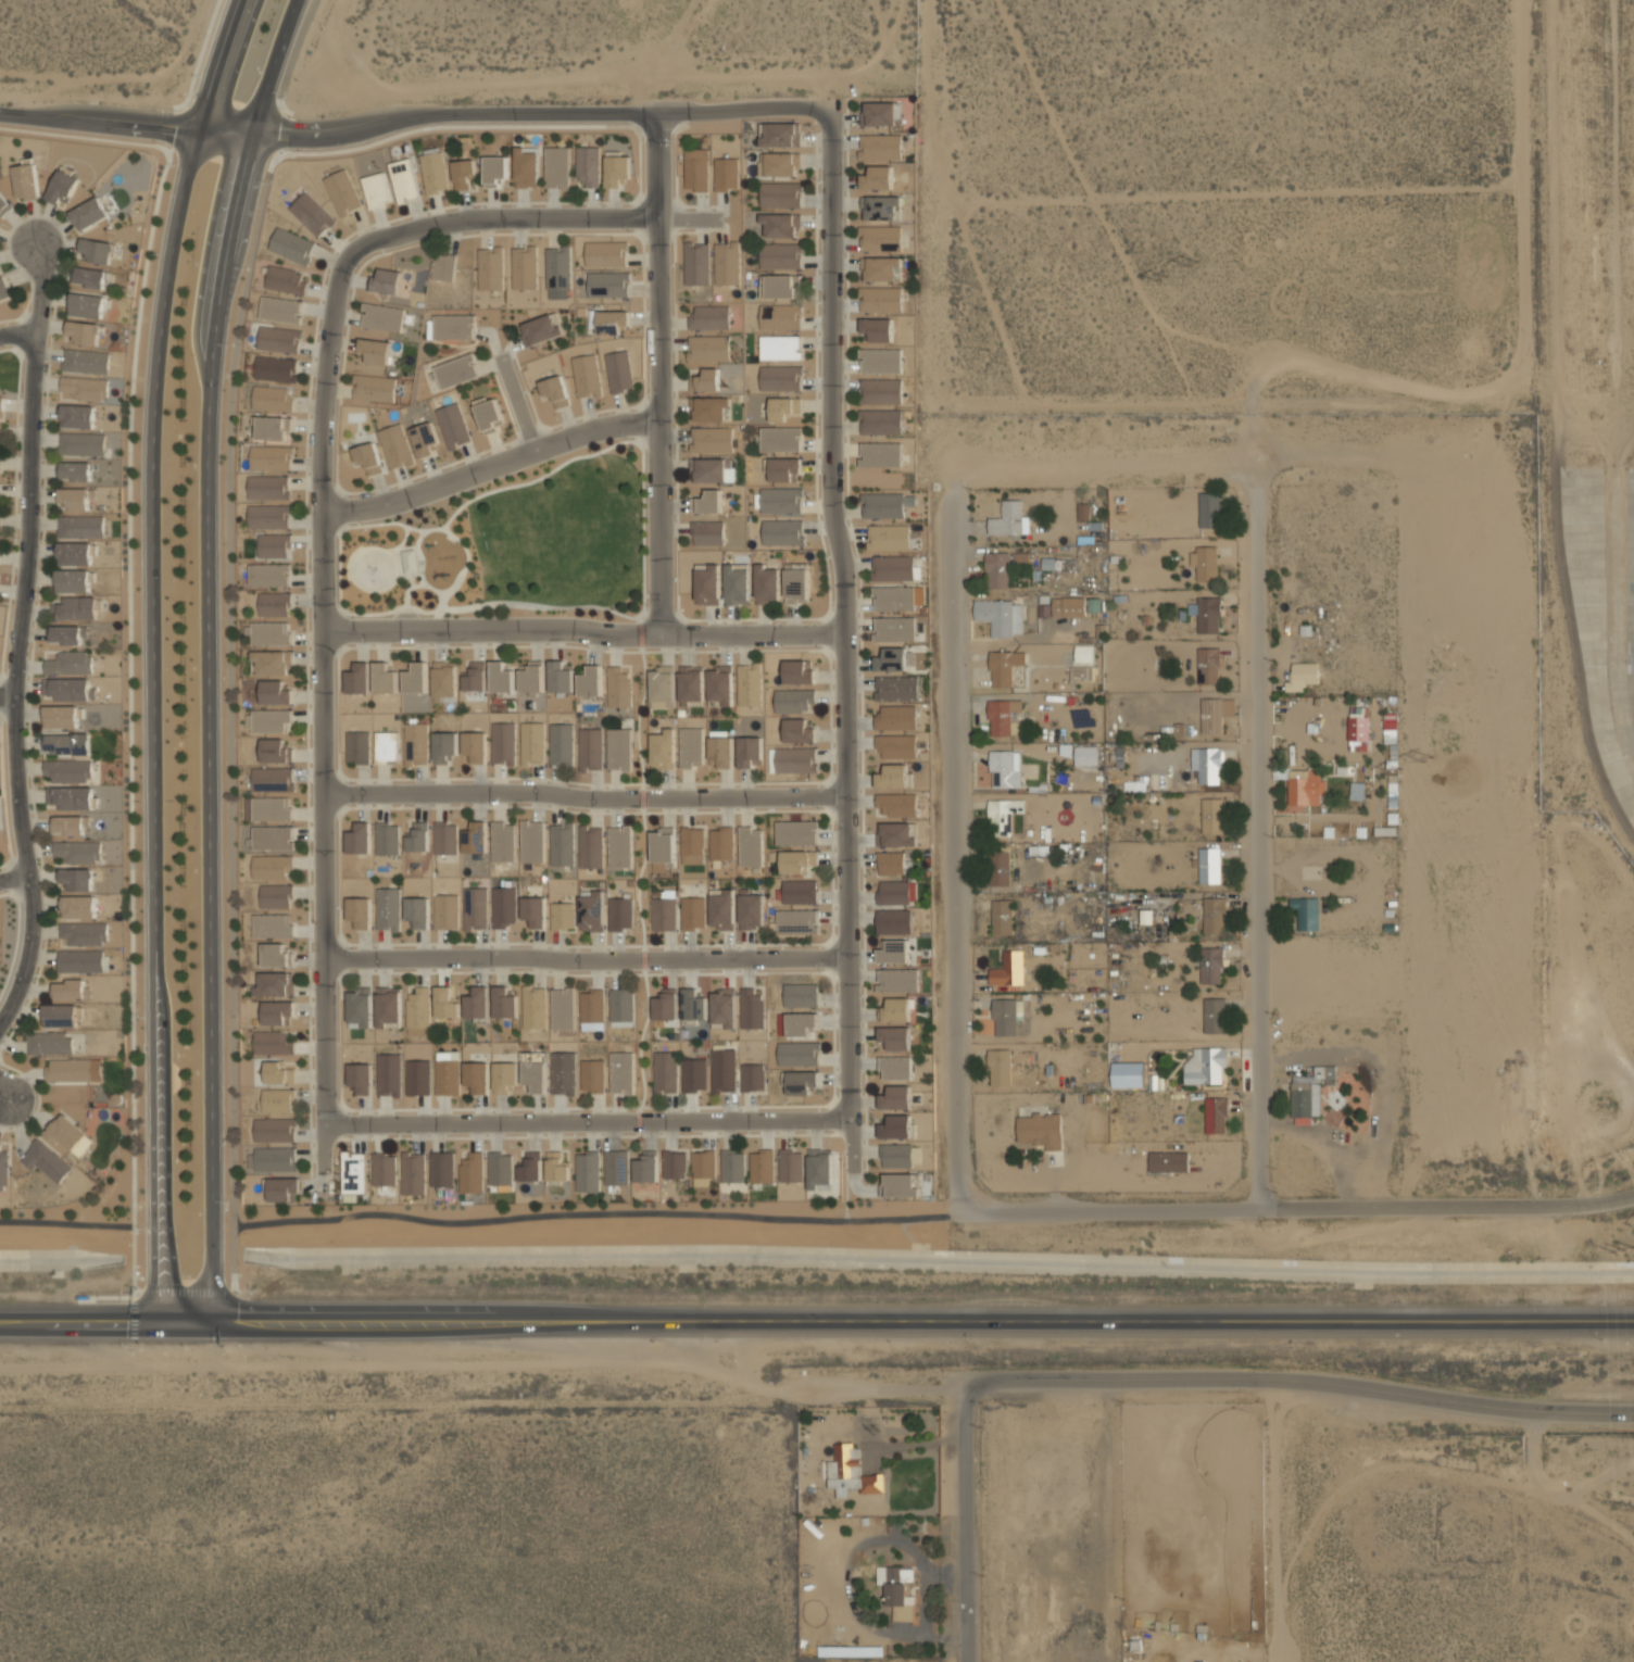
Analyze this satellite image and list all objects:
building: (881, 114)
road: (413, 118)
building: (779, 134)
building: (880, 147)
building: (761, 164)
building: (782, 164)
building: (588, 165)
building: (527, 166)
building: (556, 167)
building: (494, 169)
building: (616, 169)
building: (696, 169)
building: (433, 172)
building: (463, 174)
building: (726, 174)
building: (877, 178)
building: (403, 180)
building: (25, 181)
building: (62, 187)
building: (376, 189)
building: (342, 192)
building: (780, 194)
building: (3, 205)
building: (880, 206)
building: (89, 213)
building: (311, 214)
building: (780, 225)
building: (880, 238)
building: (291, 245)
building: (97, 250)
building: (605, 254)
building: (780, 255)
power tower: (1193, 261)
building: (696, 263)
building: (727, 263)
building: (443, 267)
building: (524, 267)
building: (558, 267)
building: (491, 268)
building: (90, 277)
power tower: (1161, 277)
building: (285, 279)
building: (387, 281)
building: (608, 285)
building: (781, 286)
building: (3, 289)
building: (880, 300)
building: (87, 305)
building: (280, 310)
building: (382, 317)
building: (709, 317)
building: (779, 317)
building: (612, 322)
building: (541, 329)
building: (877, 329)
building: (84, 332)
road: (17, 337)
building: (278, 339)
building: (780, 348)
building: (708, 350)
building: (375, 351)
building: (86, 361)
building: (880, 361)
road: (1517, 365)
building: (275, 368)
building: (455, 370)
building: (619, 372)
road: (659, 375)
building: (587, 376)
building: (780, 378)
building: (705, 380)
building: (85, 388)
building: (374, 388)
building: (554, 390)
building: (880, 391)
building: (272, 398)
road: (518, 405)
building: (708, 408)
building: (784, 408)
building: (489, 414)
building: (77, 416)
building: (880, 421)
building: (452, 425)
building: (0, 427)
building: (273, 427)
building: (425, 439)
building: (711, 439)
building: (780, 439)
building: (81, 444)
building: (395, 446)
building: (880, 454)
building: (269, 457)
building: (367, 457)
building: (0, 464)
road: (1165, 464)
road: (490, 468)
building: (713, 469)
building: (782, 469)
building: (75, 470)
building: (267, 487)
building: (0, 490)
building: (75, 499)
building: (780, 500)
building: (707, 502)
building: (882, 505)
building: (1209, 509)
building: (1083, 512)
building: (268, 517)
building: (1009, 519)
road: (322, 522)
building: (80, 527)
building: (707, 532)
building: (782, 532)
building: (888, 537)
building: (273, 545)
park: (510, 546)
building: (75, 554)
building: (1019, 556)
building: (410, 561)
building: (1204, 563)
building: (892, 567)
park: (374, 569)
building: (996, 570)
building: (268, 575)
building: (73, 580)
building: (796, 582)
building: (707, 584)
building: (737, 584)
building: (766, 584)
road: (947, 594)
building: (894, 599)
building: (274, 604)
road: (230, 605)
building: (1068, 606)
building: (76, 608)
building: (1207, 614)
building: (1001, 616)
building: (894, 629)
road: (583, 630)
building: (269, 633)
building: (67, 634)
road: (18, 635)
road: (845, 640)
road: (206, 653)
building: (1083, 653)
road: (152, 654)
building: (68, 663)
building: (271, 663)
building: (1208, 666)
building: (1004, 667)
building: (799, 671)
building: (1082, 673)
building: (1302, 676)
building: (475, 677)
building: (531, 677)
building: (561, 677)
building: (357, 678)
building: (385, 678)
building: (415, 678)
building: (501, 679)
building: (444, 680)
building: (590, 681)
building: (720, 684)
building: (749, 684)
building: (618, 685)
building: (661, 685)
building: (690, 685)
building: (896, 688)
building: (68, 689)
building: (275, 692)
road: (7, 698)
building: (793, 701)
building: (1002, 716)
building: (61, 717)
building: (896, 717)
building: (267, 720)
building: (1358, 729)
building: (797, 731)
building: (503, 743)
building: (532, 743)
building: (67, 744)
building: (415, 744)
building: (561, 744)
building: (443, 746)
building: (475, 746)
building: (896, 746)
building: (357, 747)
building: (386, 747)
building: (691, 747)
building: (590, 748)
building: (618, 748)
building: (663, 750)
building: (720, 750)
building: (275, 751)
building: (749, 752)
building: (1085, 755)
power tower: (1428, 757)
building: (795, 759)
building: (1207, 765)
building: (1005, 769)
power tower: (1396, 769)
building: (66, 770)
building: (892, 777)
building: (272, 779)
building: (1136, 784)
building: (1306, 791)
building: (1357, 792)
building: (71, 797)
road: (583, 798)
building: (897, 804)
building: (267, 808)
building: (1003, 815)
building: (1211, 816)
building: (70, 824)
building: (796, 832)
building: (895, 834)
road: (1254, 836)
building: (417, 838)
building: (444, 838)
building: (475, 838)
building: (359, 839)
building: (387, 839)
building: (532, 841)
building: (503, 842)
building: (721, 843)
building: (562, 844)
building: (692, 845)
building: (591, 846)
building: (619, 846)
building: (750, 846)
building: (663, 848)
building: (78, 852)
building: (796, 860)
building: (891, 864)
building: (1209, 866)
building: (272, 867)
building: (998, 868)
road: (14, 878)
building: (77, 879)
road: (637, 879)
building: (800, 892)
building: (894, 892)
building: (276, 896)
building: (503, 906)
building: (78, 907)
building: (475, 908)
building: (388, 909)
building: (722, 910)
building: (751, 910)
building: (360, 911)
building: (417, 911)
building: (445, 911)
building: (533, 911)
building: (592, 911)
building: (664, 911)
building: (693, 912)
building: (1306, 912)
building: (620, 914)
building: (1214, 915)
building: (562, 916)
building: (1002, 917)
building: (797, 921)
building: (894, 921)
building: (272, 926)
building: (84, 933)
building: (894, 952)
building: (276, 955)
road: (585, 960)
building: (80, 961)
building: (1210, 966)
road: (950, 968)
building: (1008, 969)
building: (897, 980)
building: (275, 984)
building: (71, 990)
building: (801, 995)
building: (444, 1003)
building: (477, 1003)
building: (503, 1003)
building: (665, 1005)
building: (693, 1005)
building: (592, 1006)
building: (388, 1007)
building: (418, 1007)
building: (533, 1007)
building: (620, 1007)
building: (360, 1008)
building: (563, 1008)
building: (722, 1008)
building: (752, 1008)
building: (894, 1010)
building: (277, 1012)
building: (1214, 1015)
building: (60, 1016)
building: (1005, 1017)
building: (801, 1023)
building: (895, 1037)
building: (49, 1043)
building: (273, 1043)
building: (799, 1054)
building: (1205, 1066)
building: (1000, 1067)
building: (895, 1068)
building: (74, 1070)
building: (724, 1070)
building: (533, 1071)
building: (278, 1072)
building: (665, 1072)
building: (447, 1073)
building: (563, 1073)
building: (621, 1073)
building: (389, 1074)
building: (694, 1074)
building: (592, 1075)
building: (477, 1076)
building: (752, 1076)
building: (361, 1078)
building: (417, 1078)
building: (505, 1078)
building: (801, 1082)
building: (1311, 1092)
road: (3, 1096)
building: (895, 1097)
building: (276, 1100)
building: (1216, 1115)
road: (587, 1123)
building: (895, 1126)
building: (275, 1130)
building: (1040, 1130)
building: (68, 1135)
building: (896, 1155)
building: (272, 1159)
building: (46, 1161)
building: (1168, 1161)
building: (675, 1164)
building: (732, 1166)
building: (762, 1166)
building: (791, 1166)
building: (531, 1167)
building: (556, 1167)
building: (616, 1167)
building: (646, 1167)
building: (703, 1167)
building: (819, 1168)
building: (384, 1169)
building: (441, 1169)
building: (500, 1169)
building: (3, 1170)
building: (588, 1171)
building: (353, 1172)
building: (472, 1172)
building: (413, 1173)
building: (281, 1189)
road: (845, 1194)
road: (1293, 1208)
road: (592, 1213)
road: (66, 1223)
power tower: (1623, 1247)
road: (134, 1273)
road: (216, 1292)
traffic signals: (156, 1319)
traffic signals: (215, 1319)
road: (816, 1319)
road: (1165, 1378)
building: (851, 1472)
building: (897, 1590)

